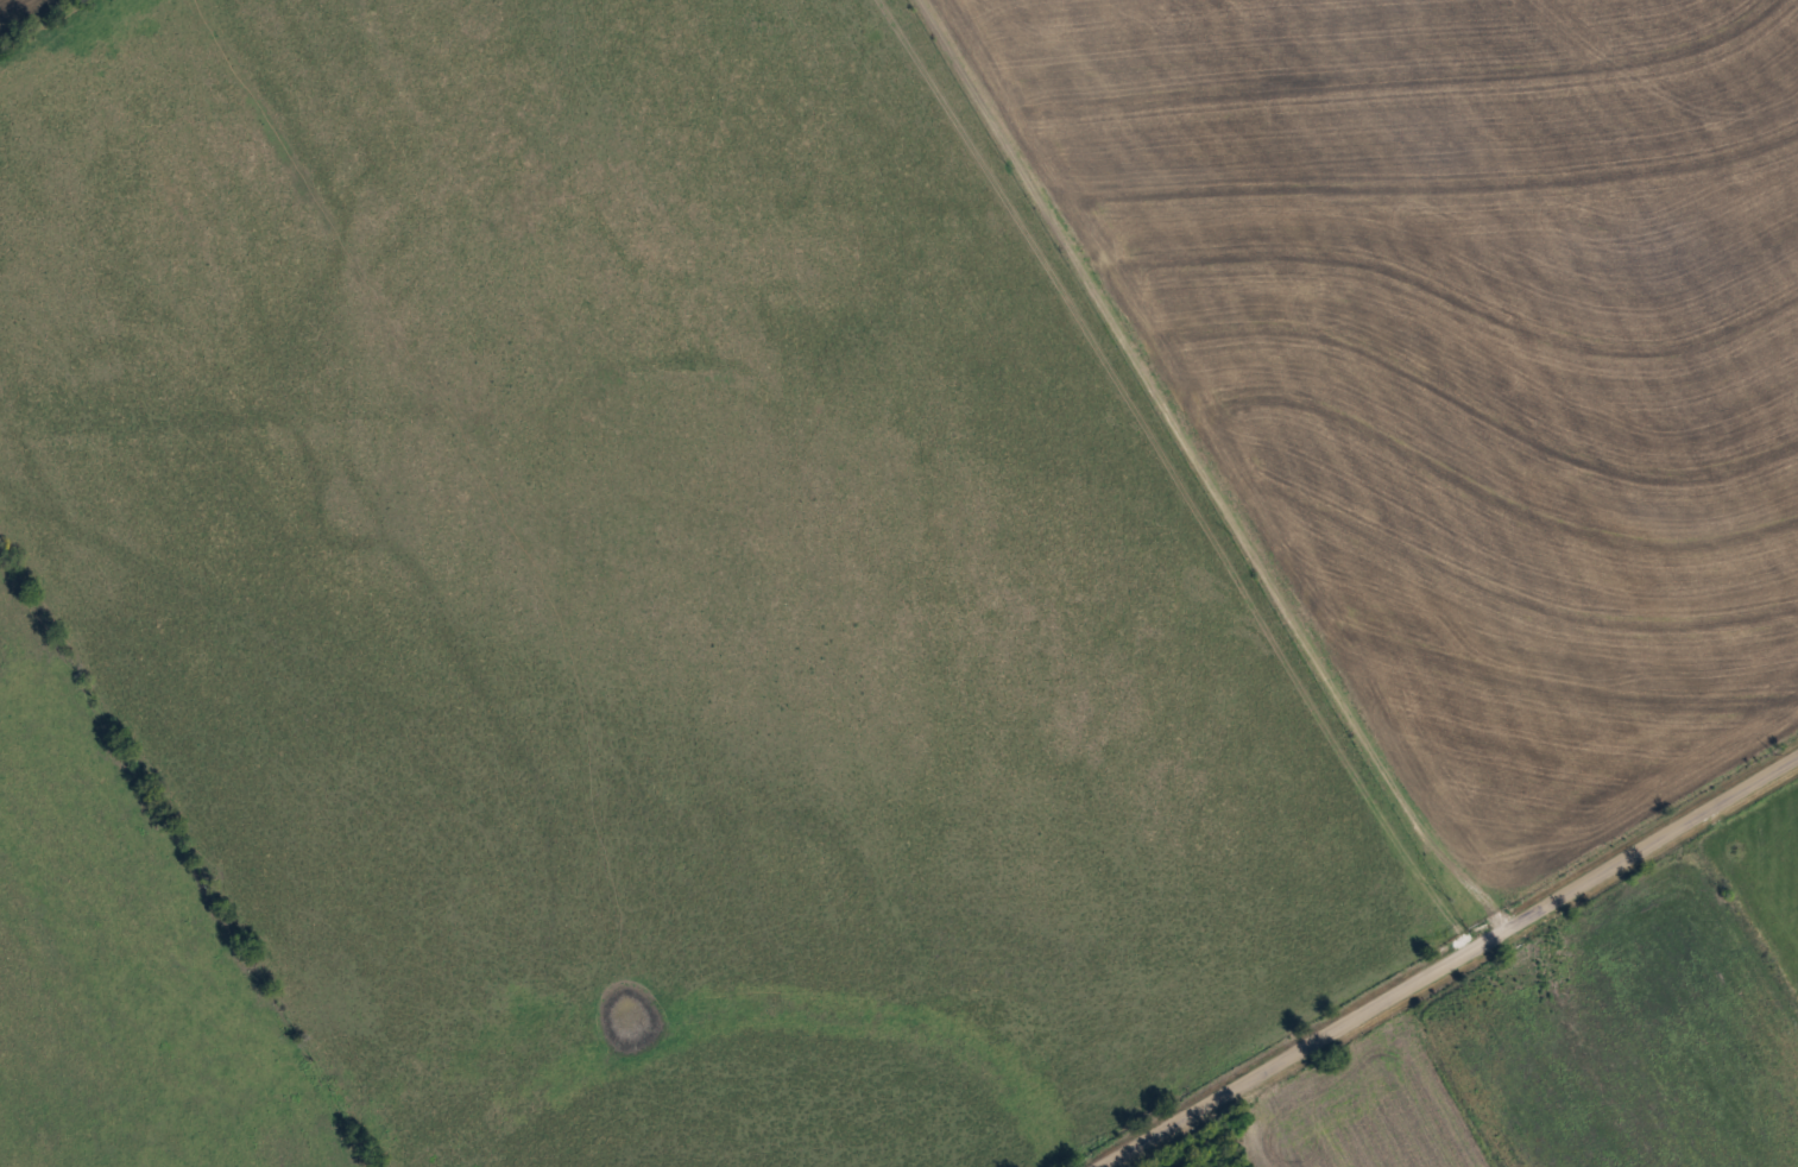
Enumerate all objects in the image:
road: (1424, 948)

